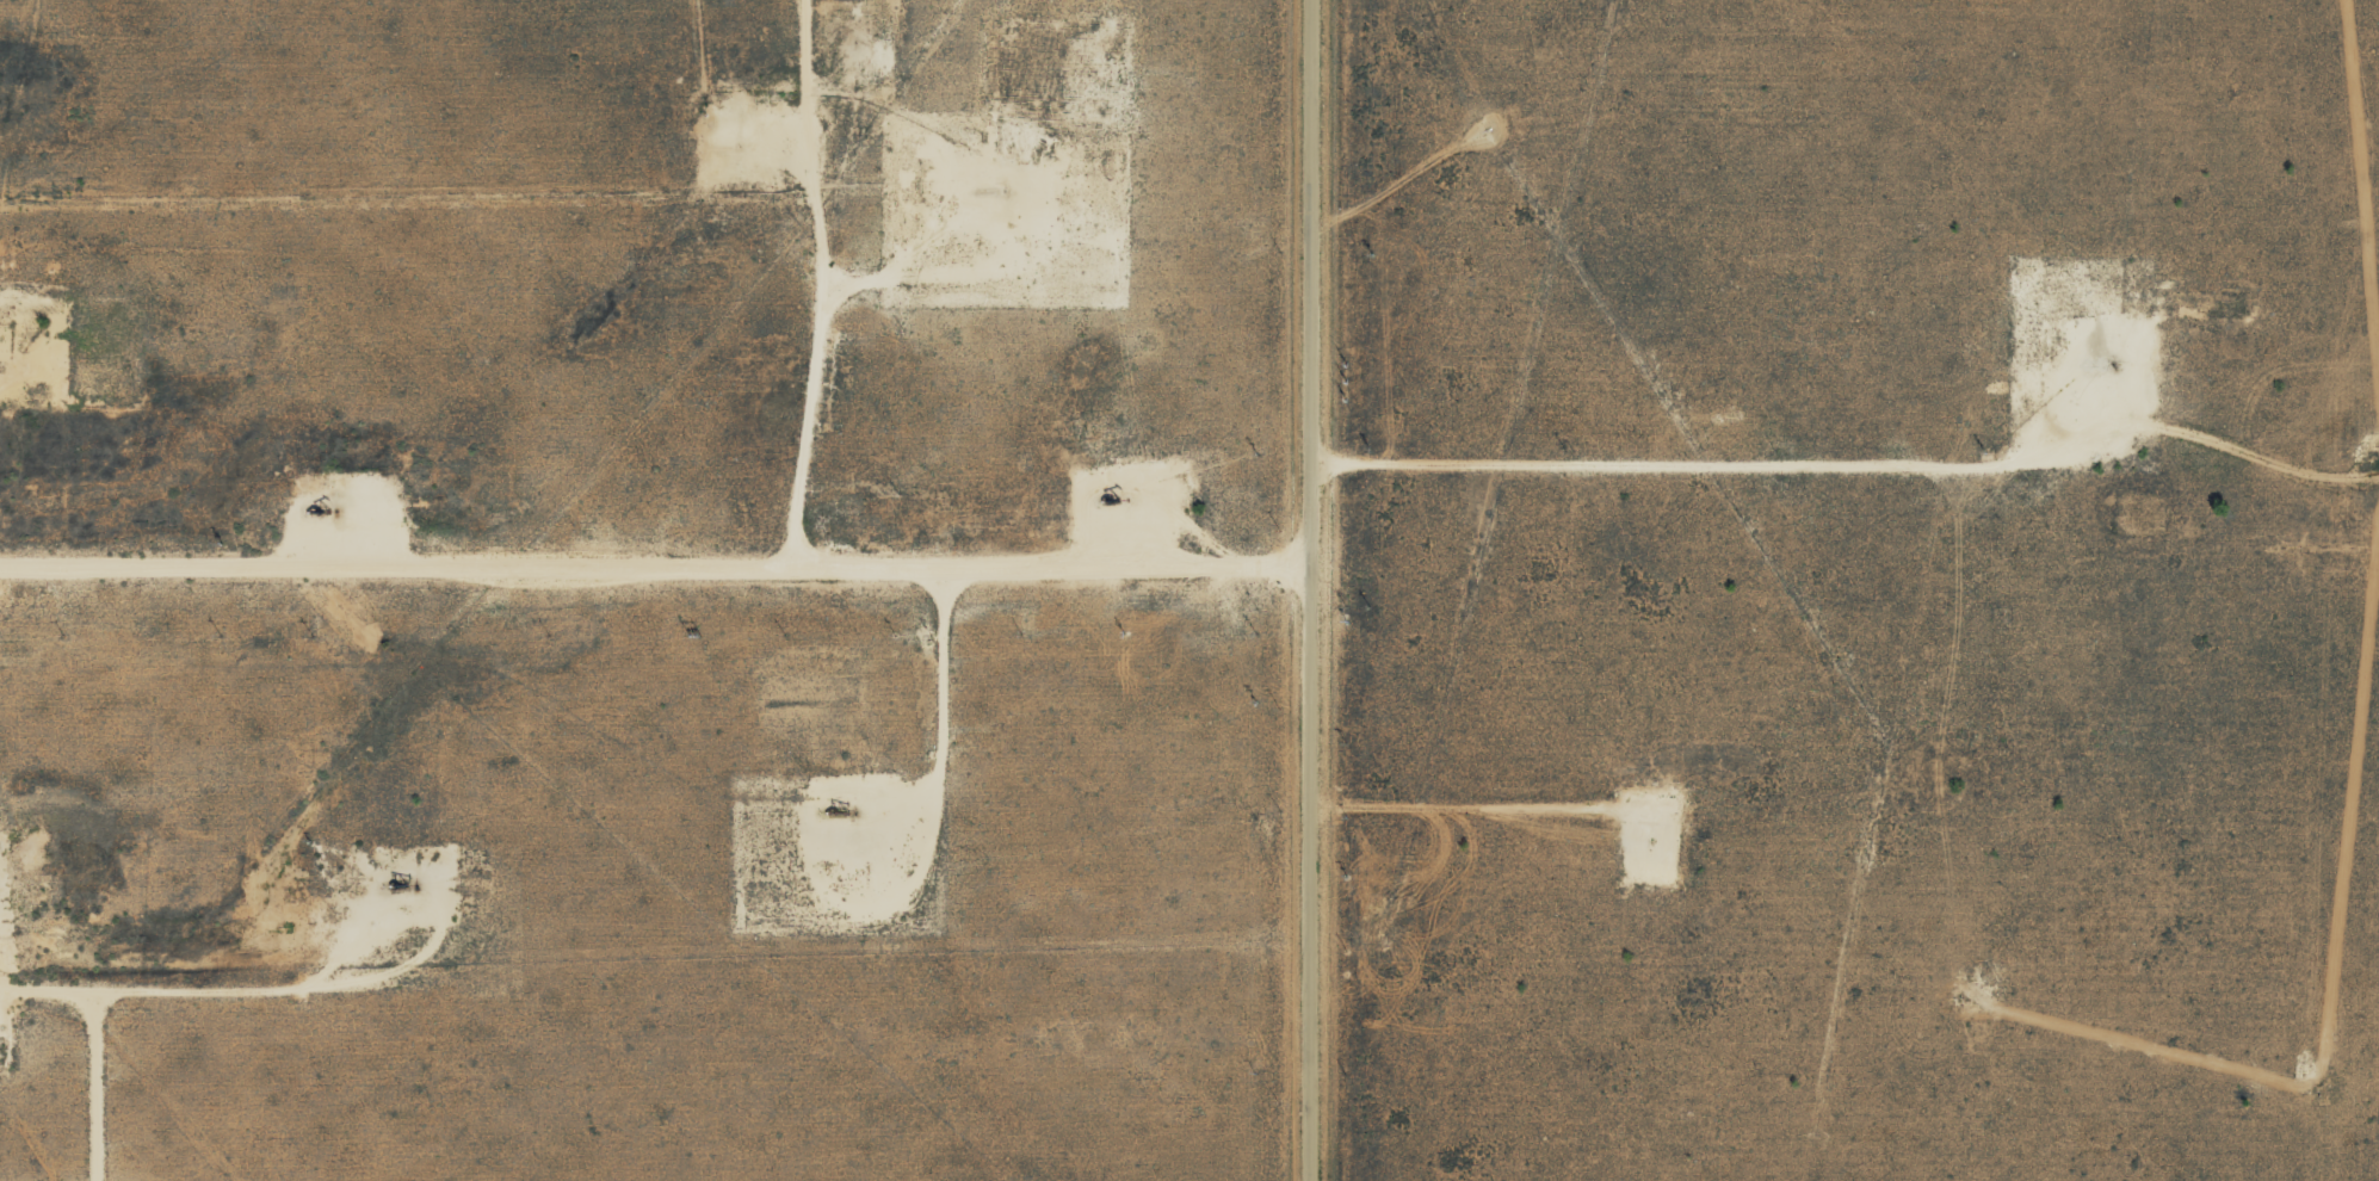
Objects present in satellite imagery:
road: (643, 531)
road: (1286, 589)
road: (1569, 816)

